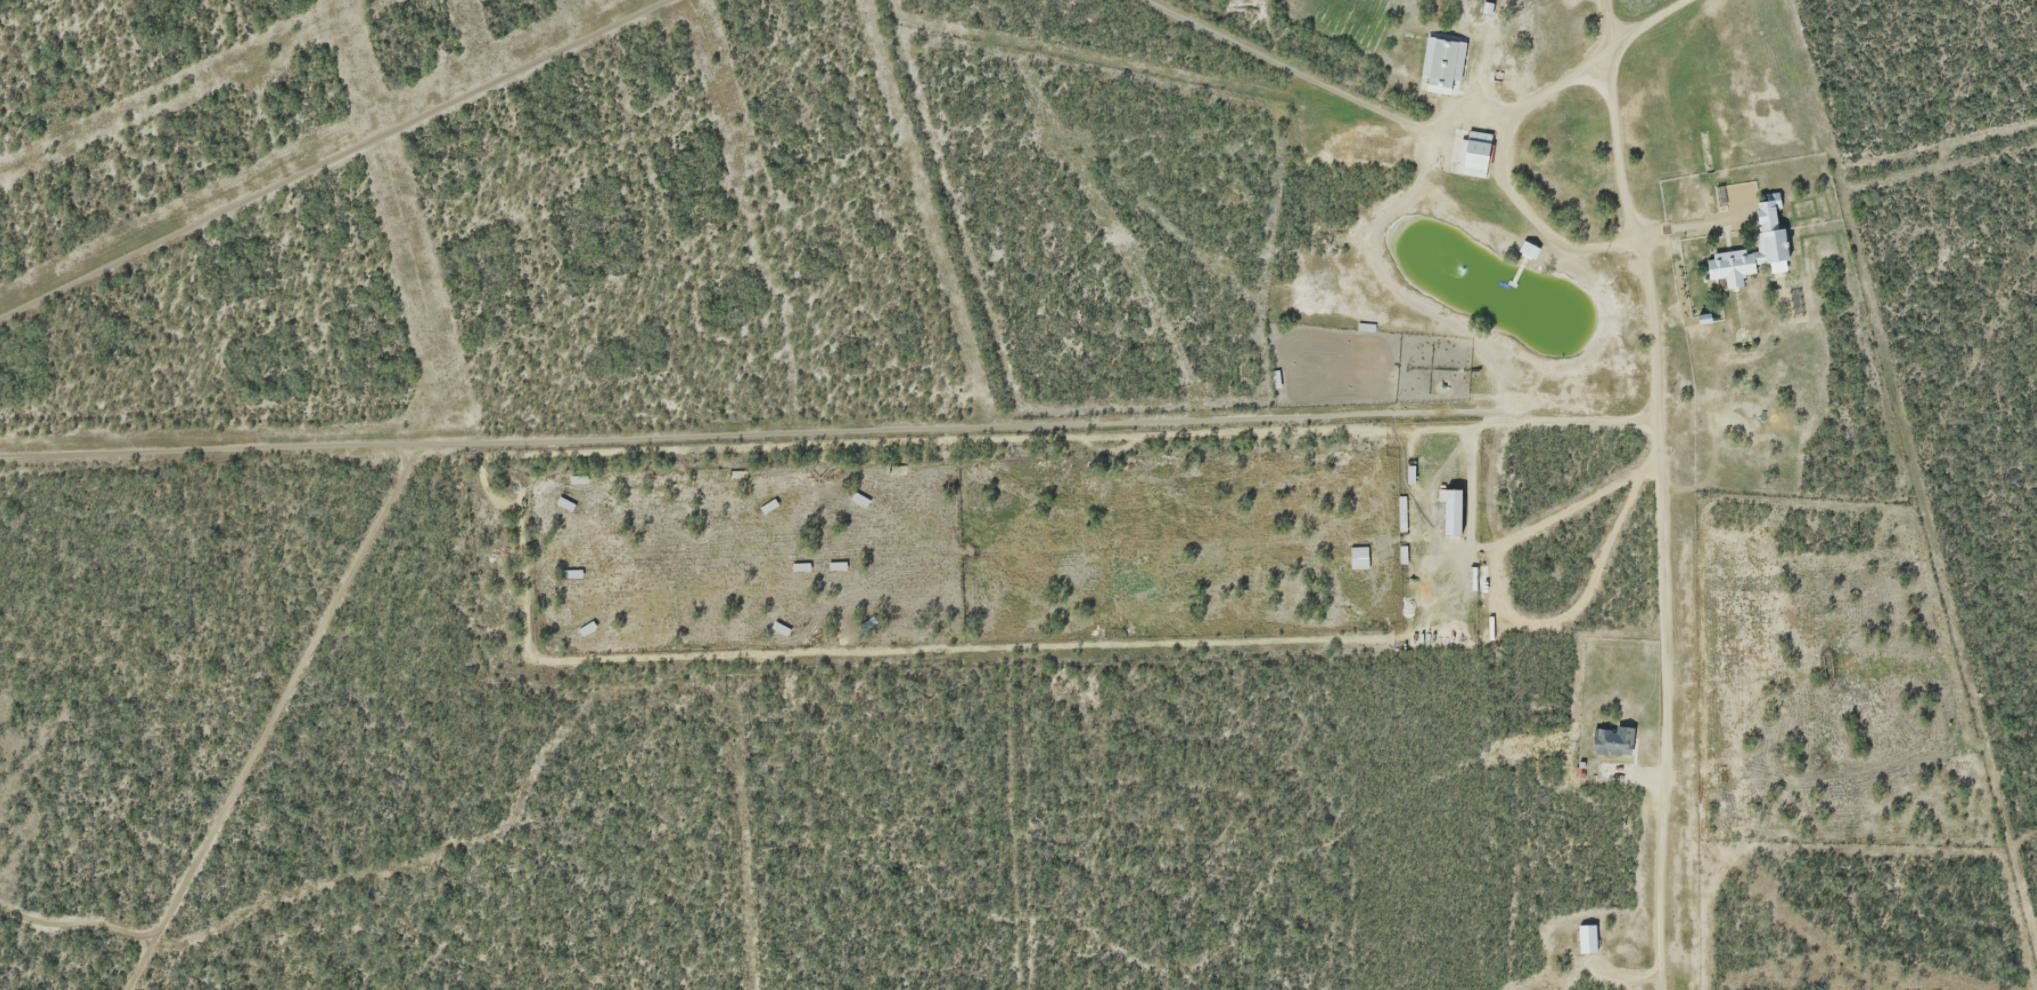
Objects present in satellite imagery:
road: (1598, 55)
road: (1277, 62)
building: (1446, 63)
road: (1462, 124)
building: (1477, 154)
building: (1774, 241)
road: (1661, 510)
building: (1457, 511)

